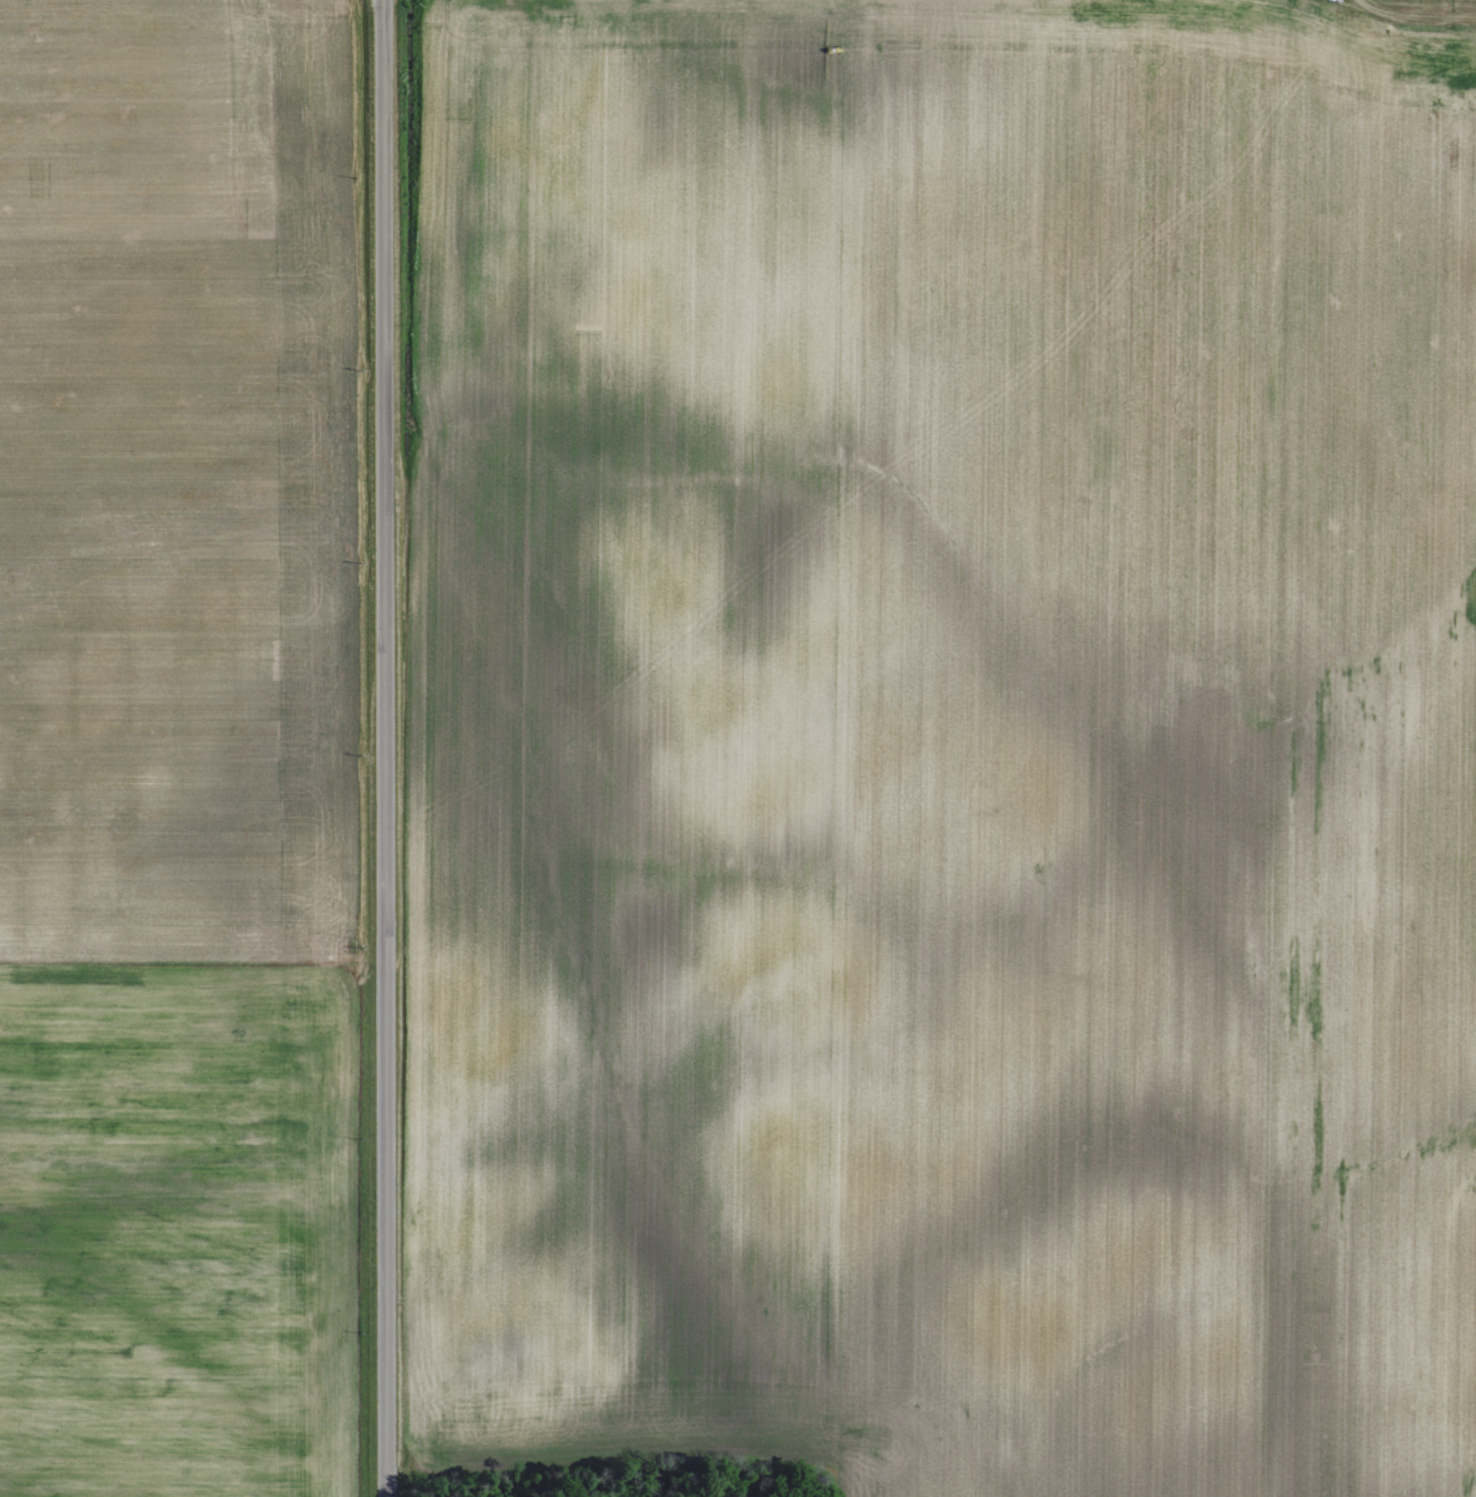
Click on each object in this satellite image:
road: (380, 748)

